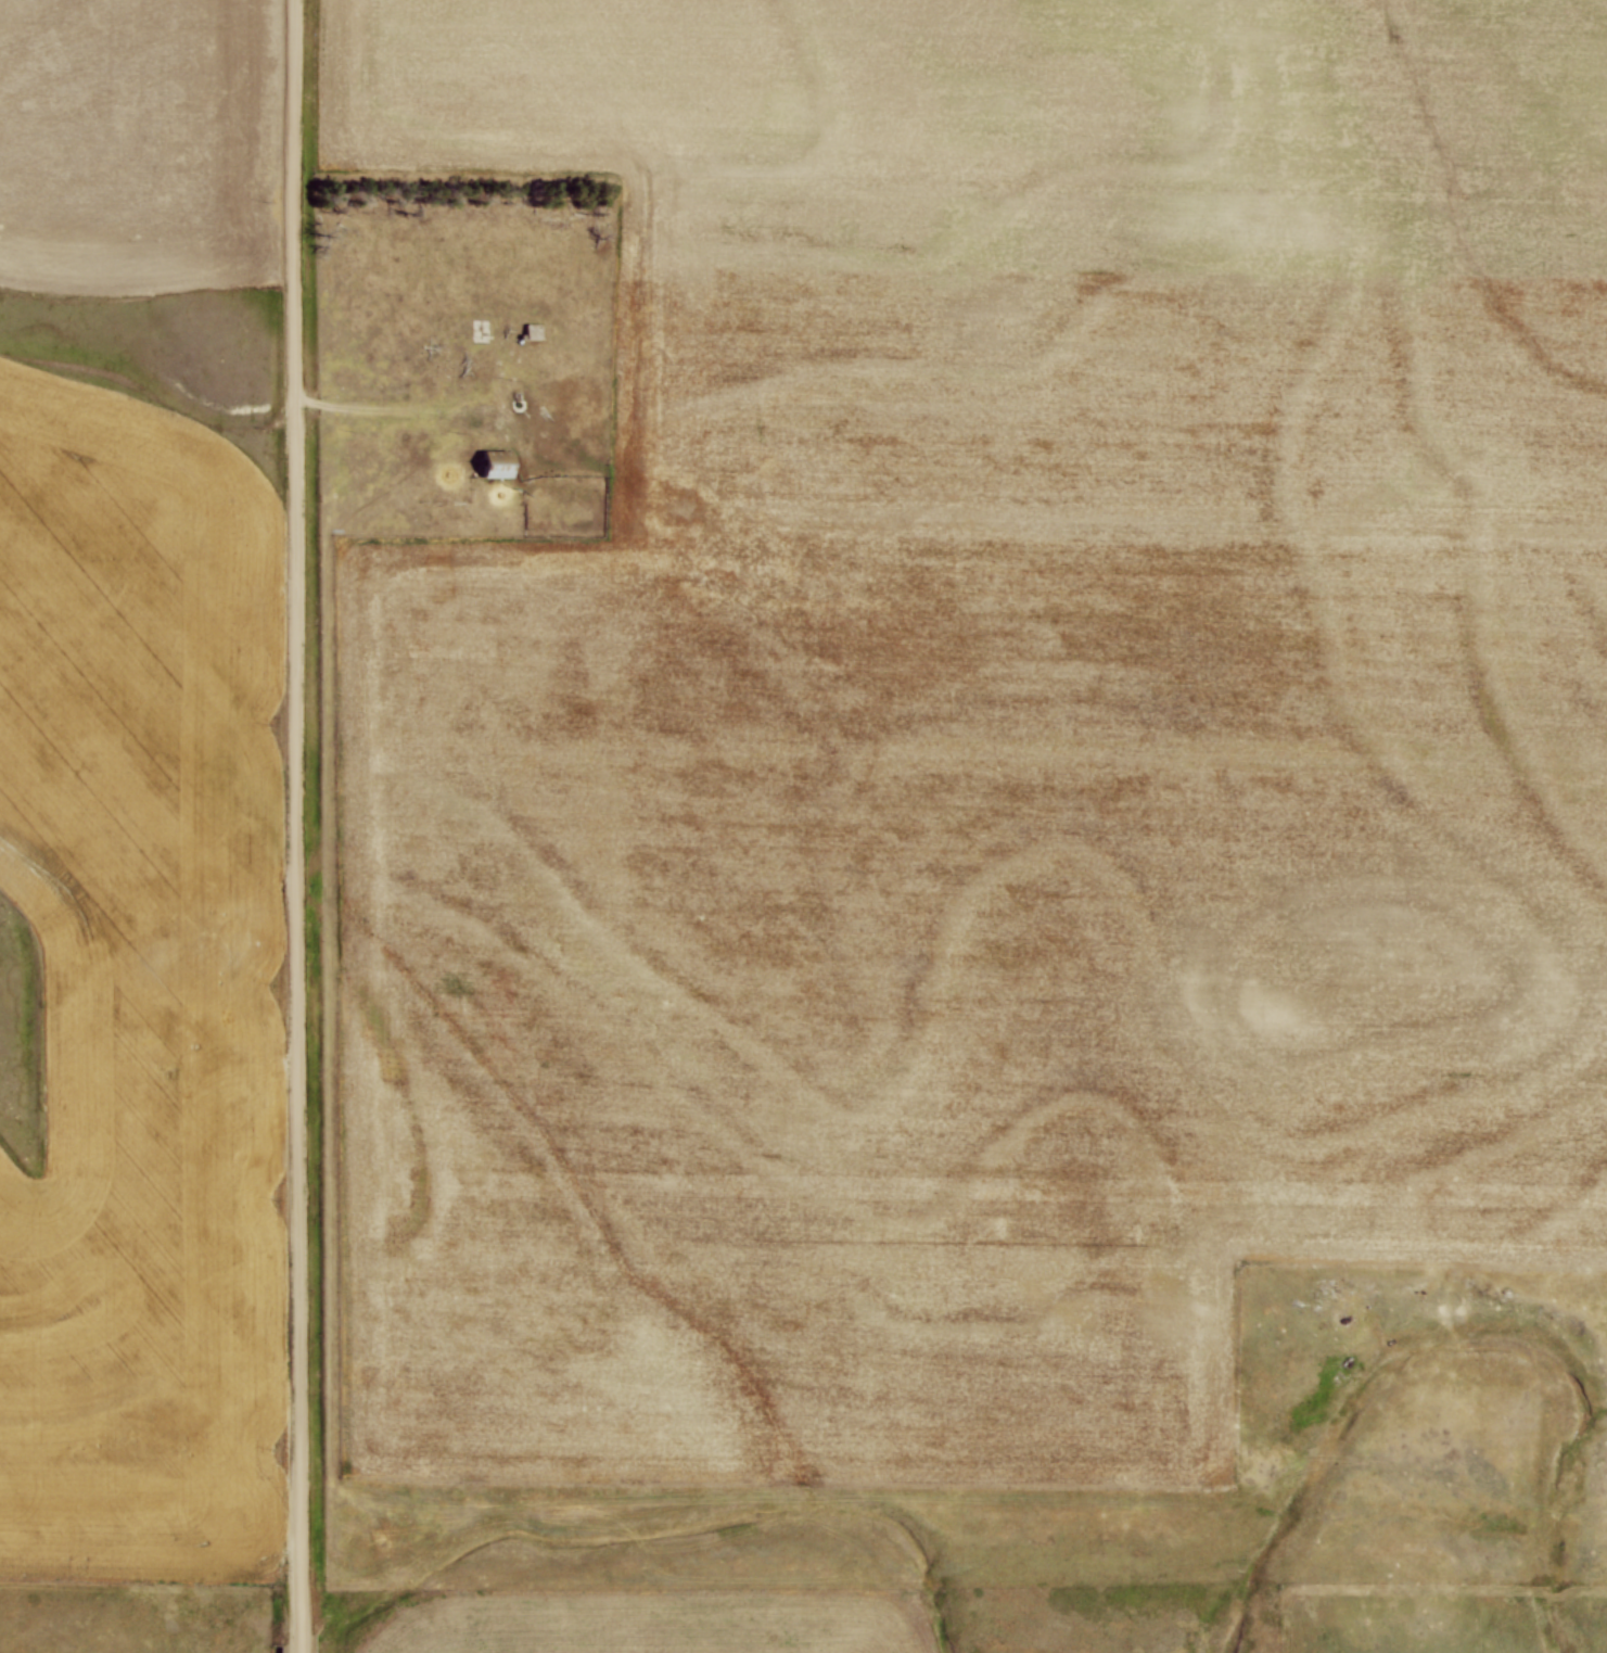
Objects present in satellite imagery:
crop: (138, 145)
building: (533, 330)
road: (378, 410)
building: (496, 462)
crop: (986, 734)
road: (297, 817)
crop: (138, 981)
road: (298, 1644)

